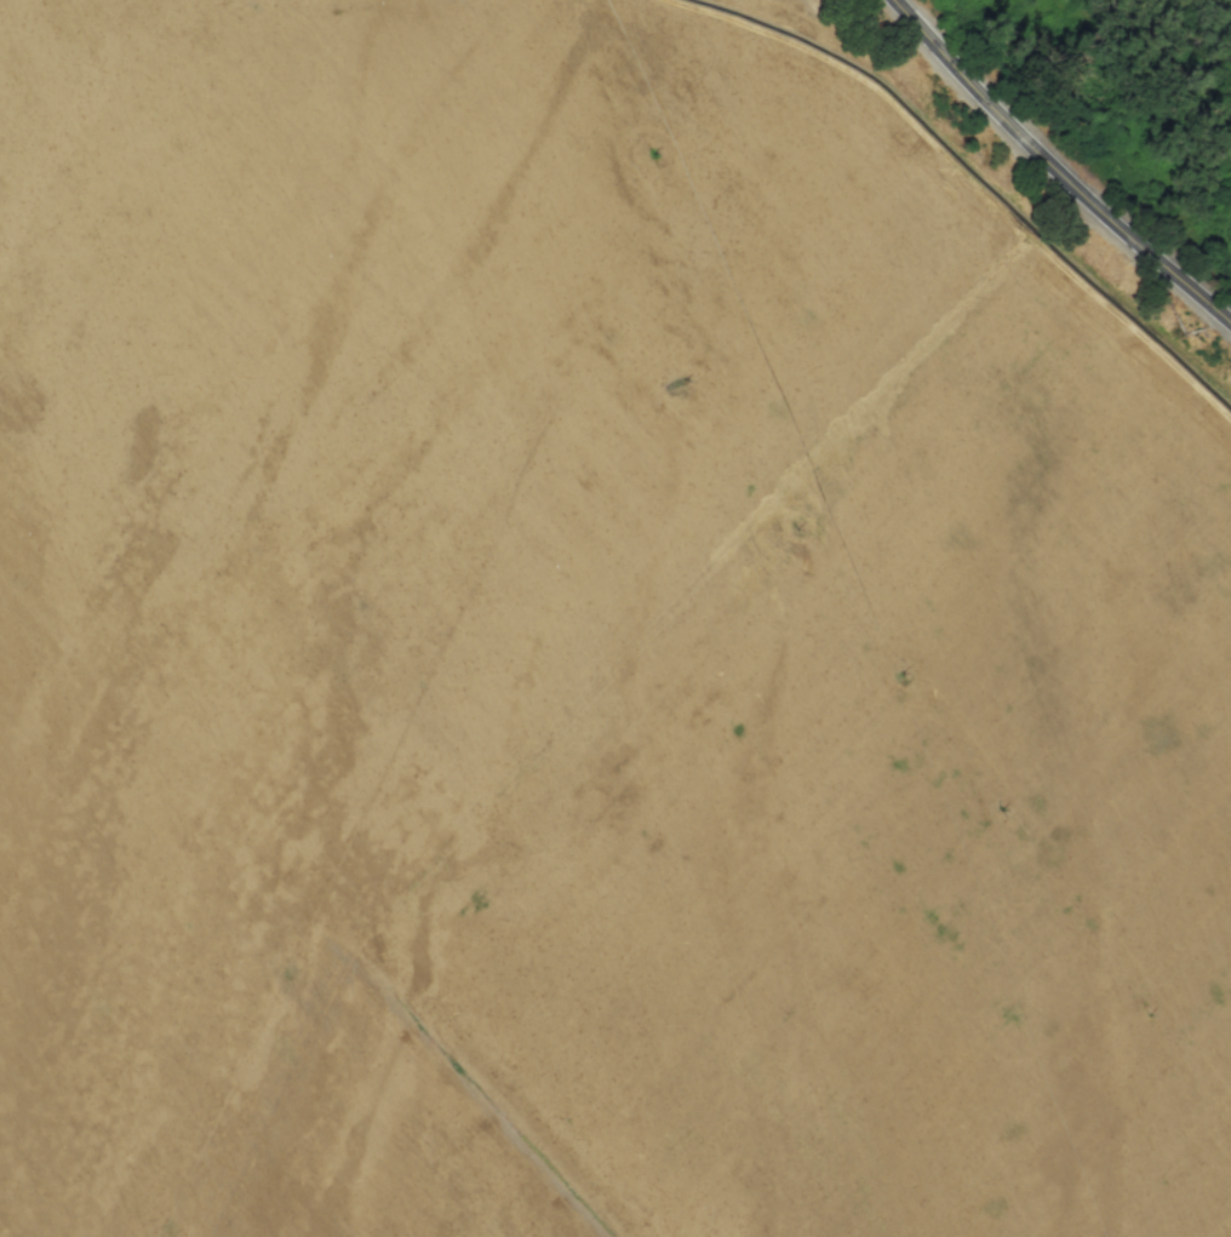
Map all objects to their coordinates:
road: (1059, 167)
crop: (590, 643)

